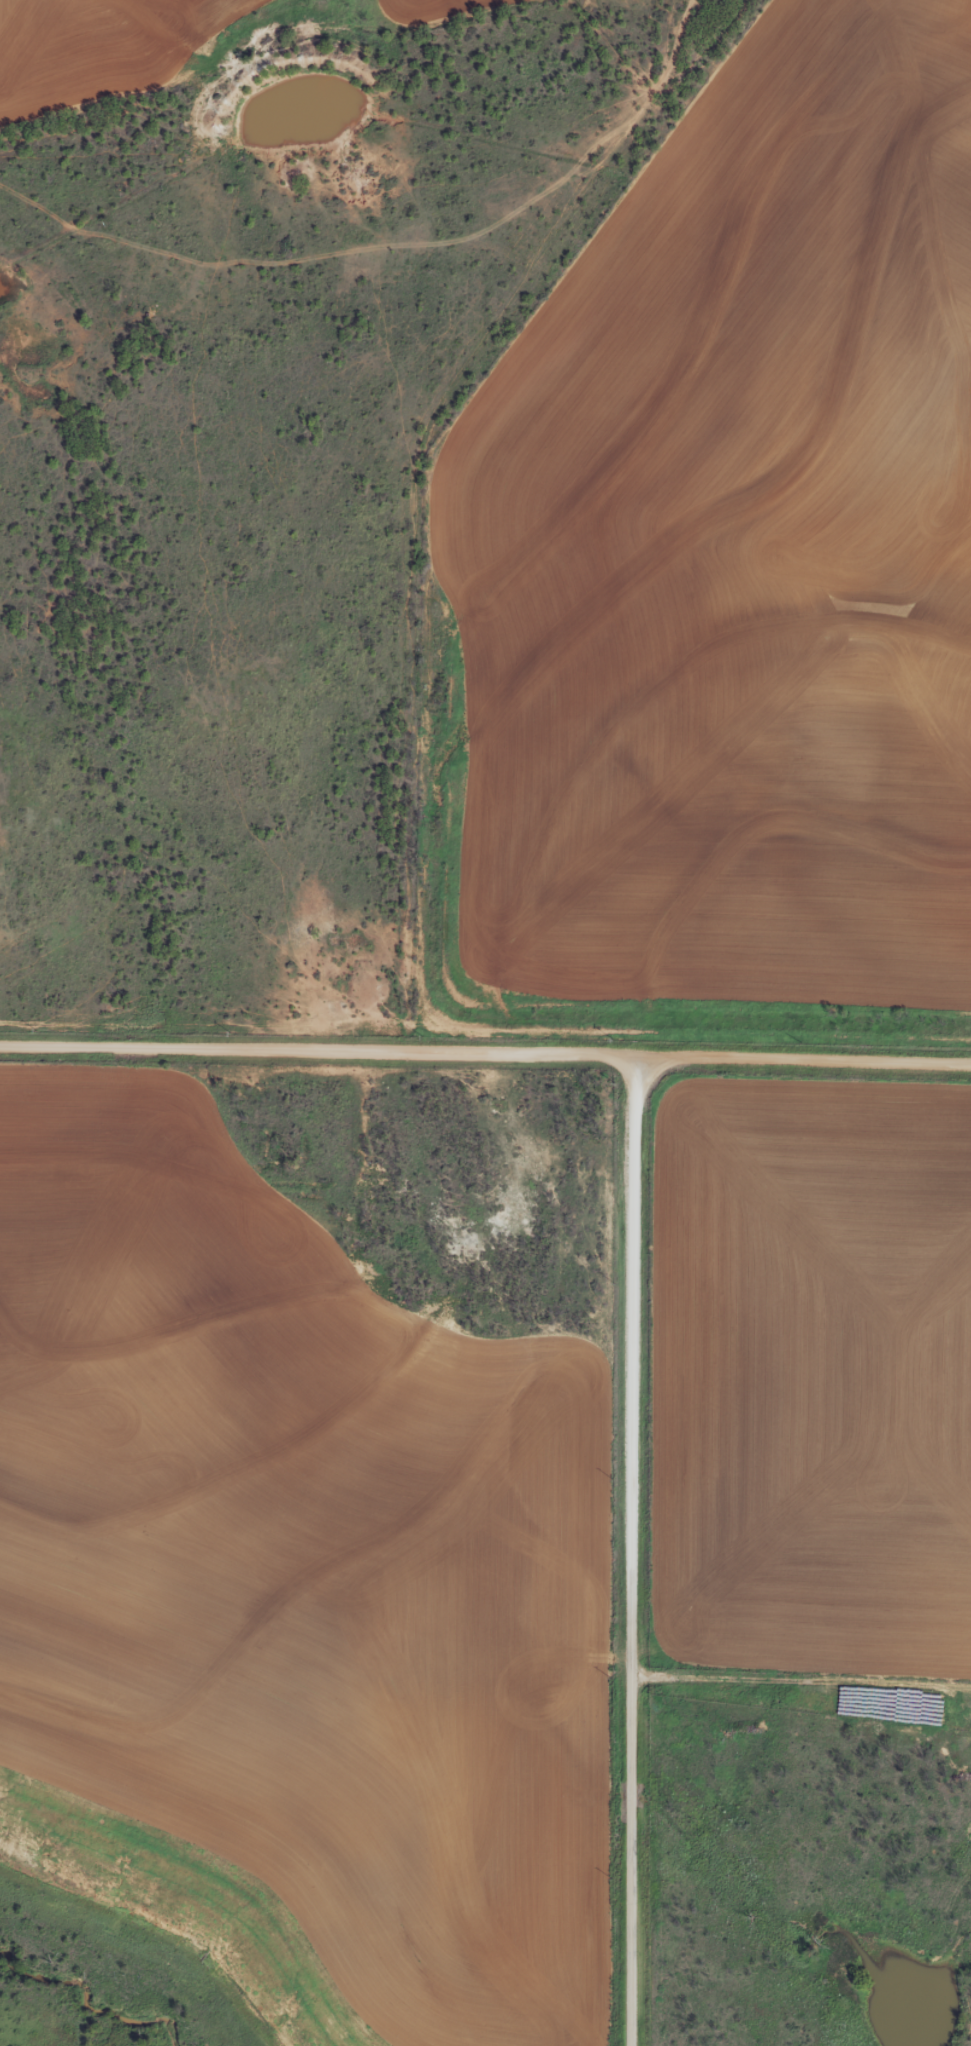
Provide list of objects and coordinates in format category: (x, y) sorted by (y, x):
road: (319, 1049)
road: (804, 1062)
road: (635, 1550)

